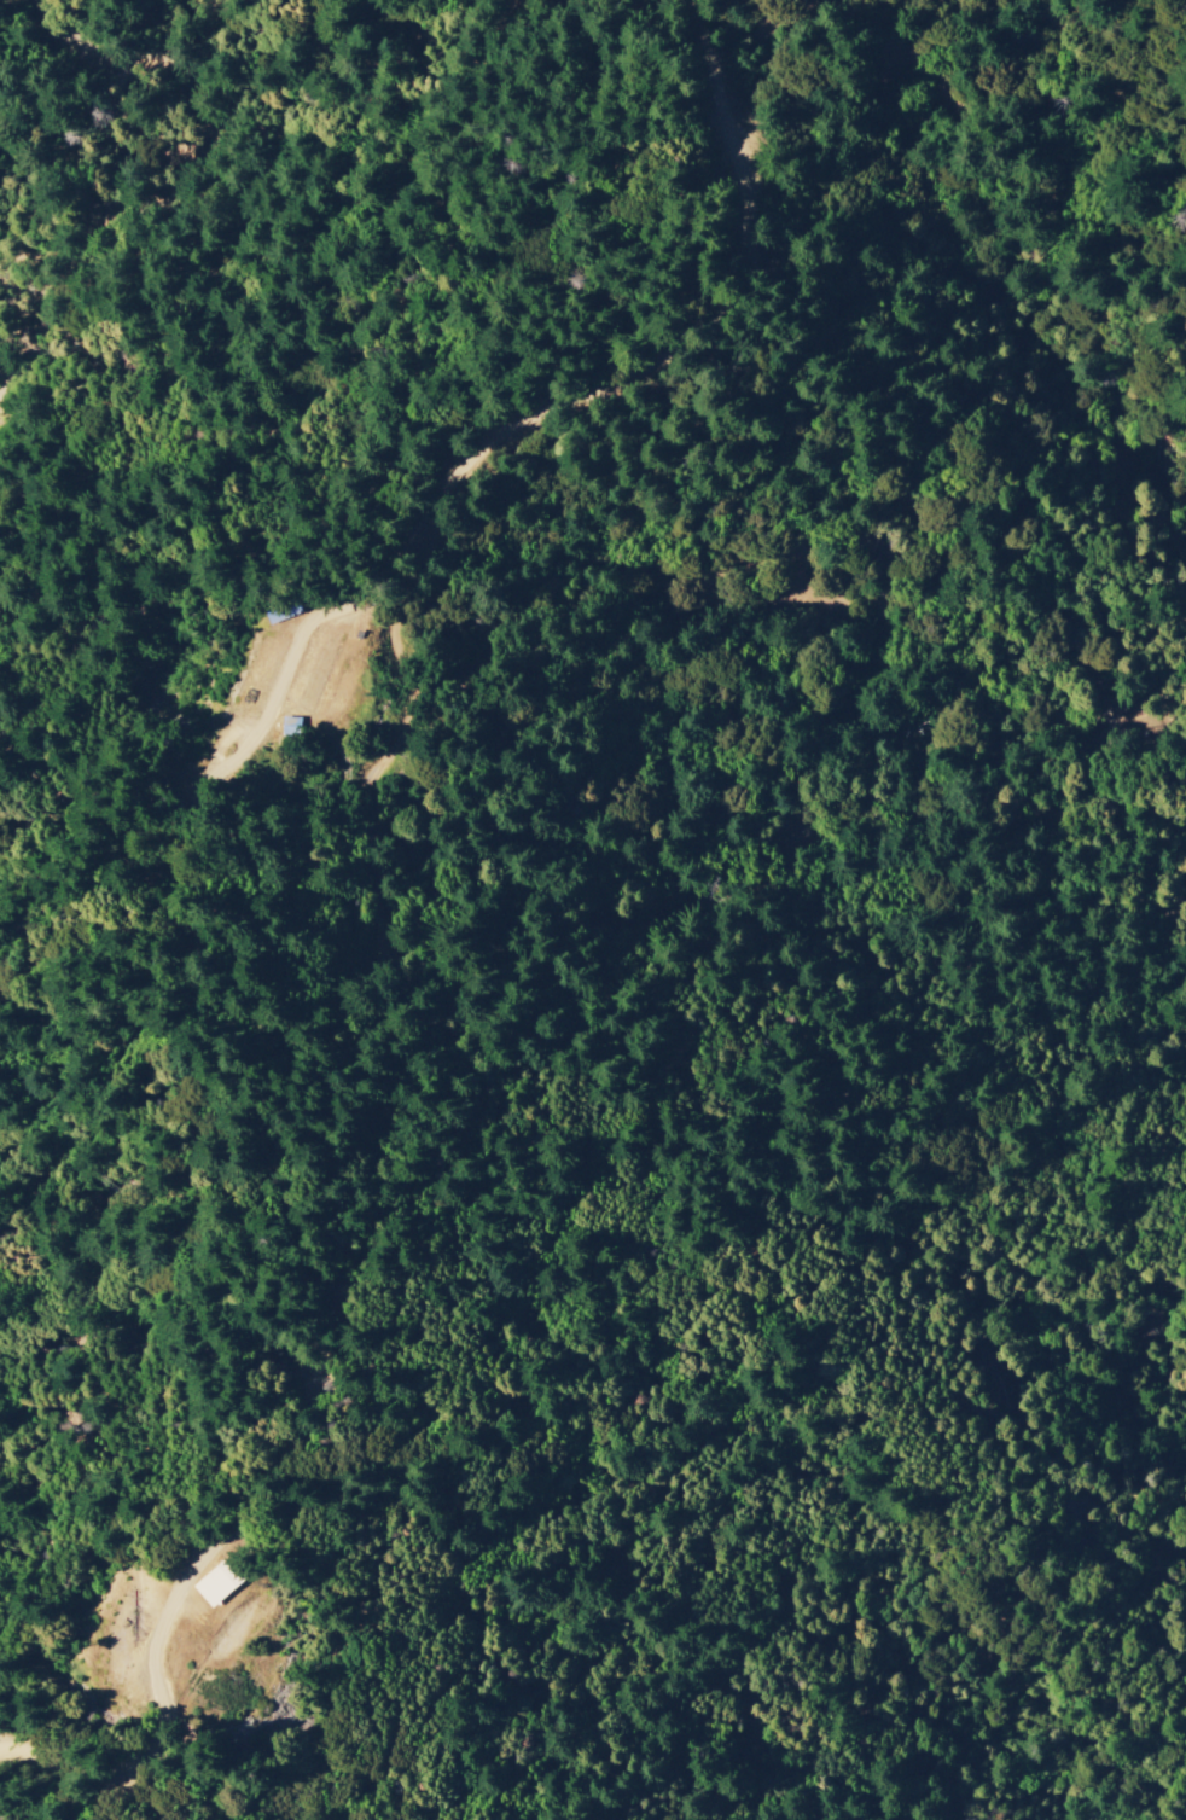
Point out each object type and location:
building: (284, 614)
building: (291, 727)
building: (216, 1584)

